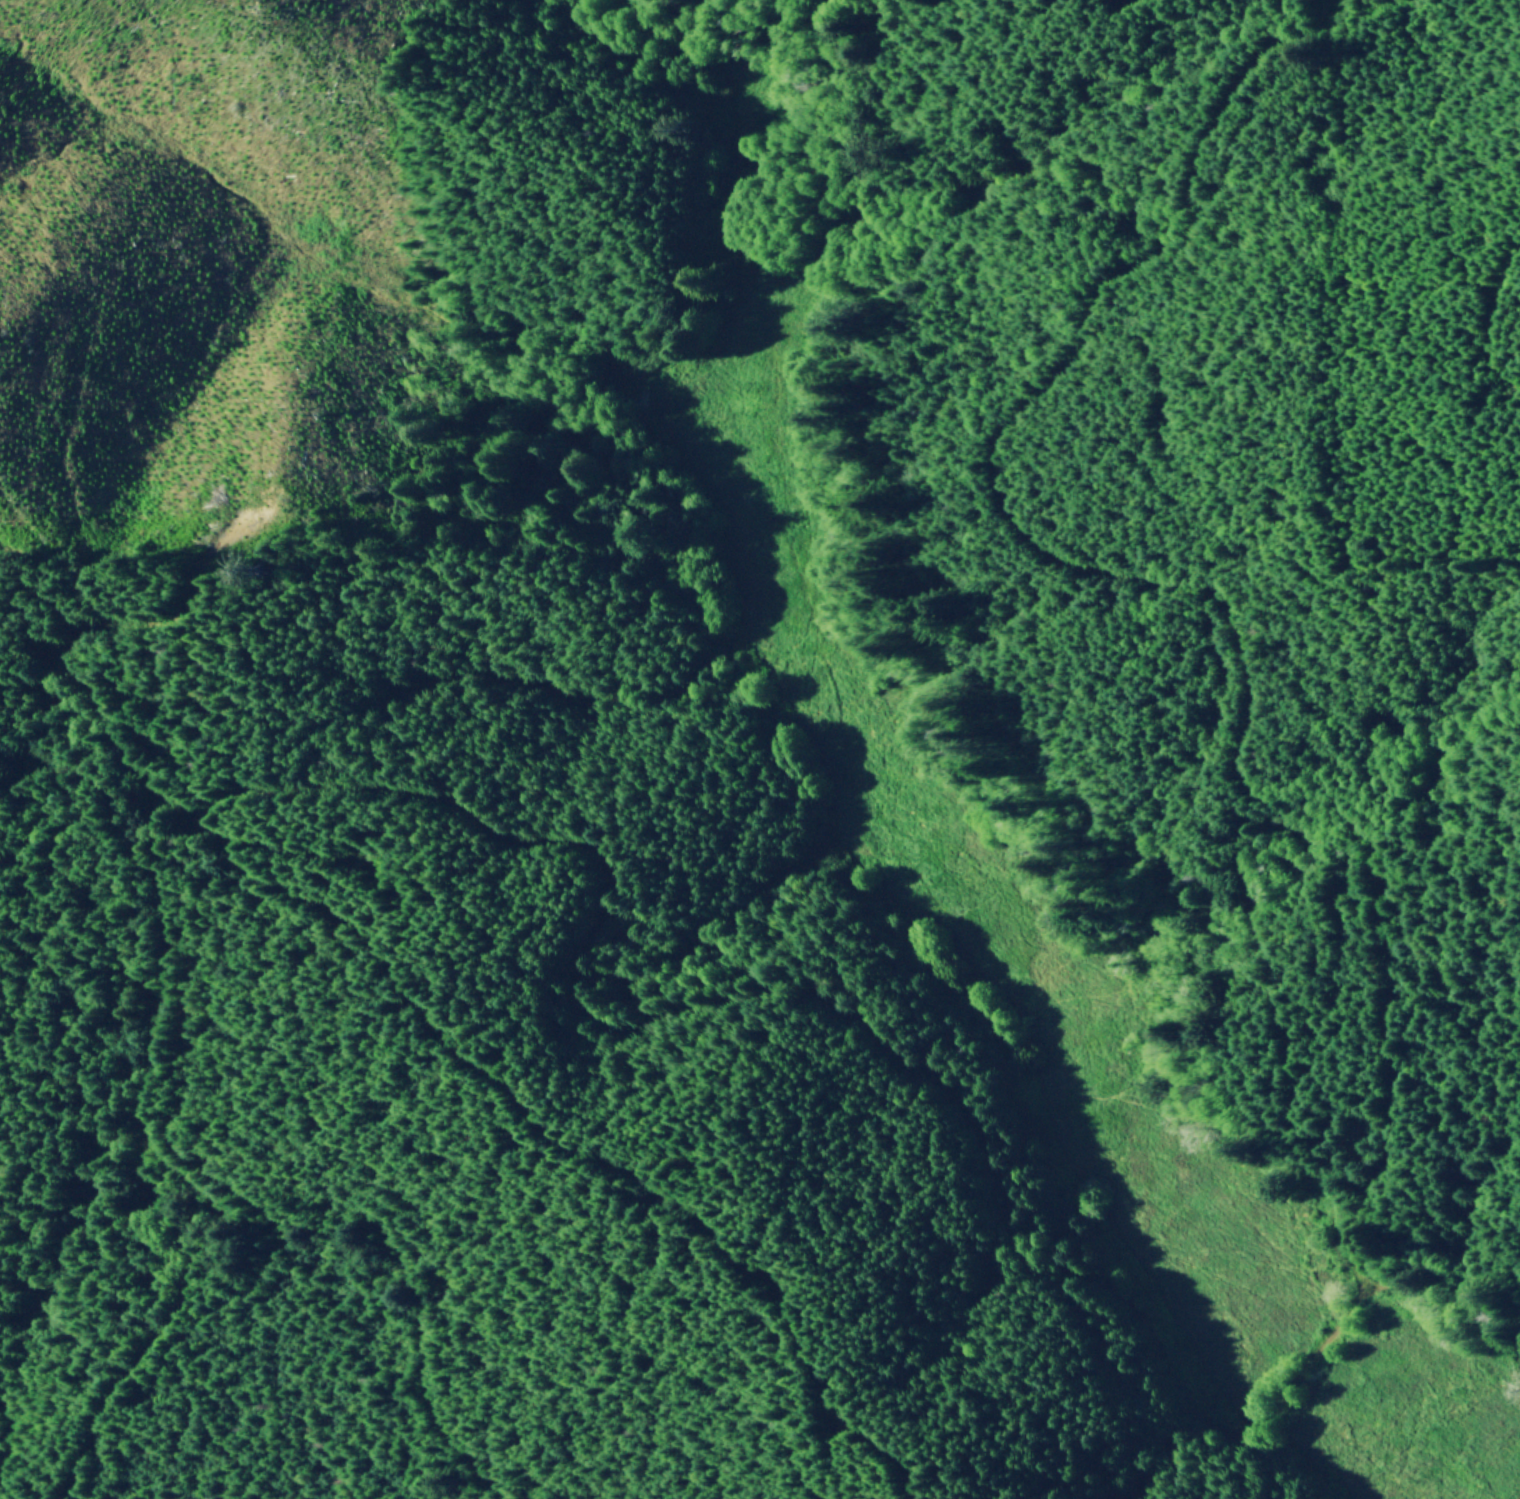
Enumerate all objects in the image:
road: (1200, 594)
road: (872, 1040)
road: (146, 1058)

